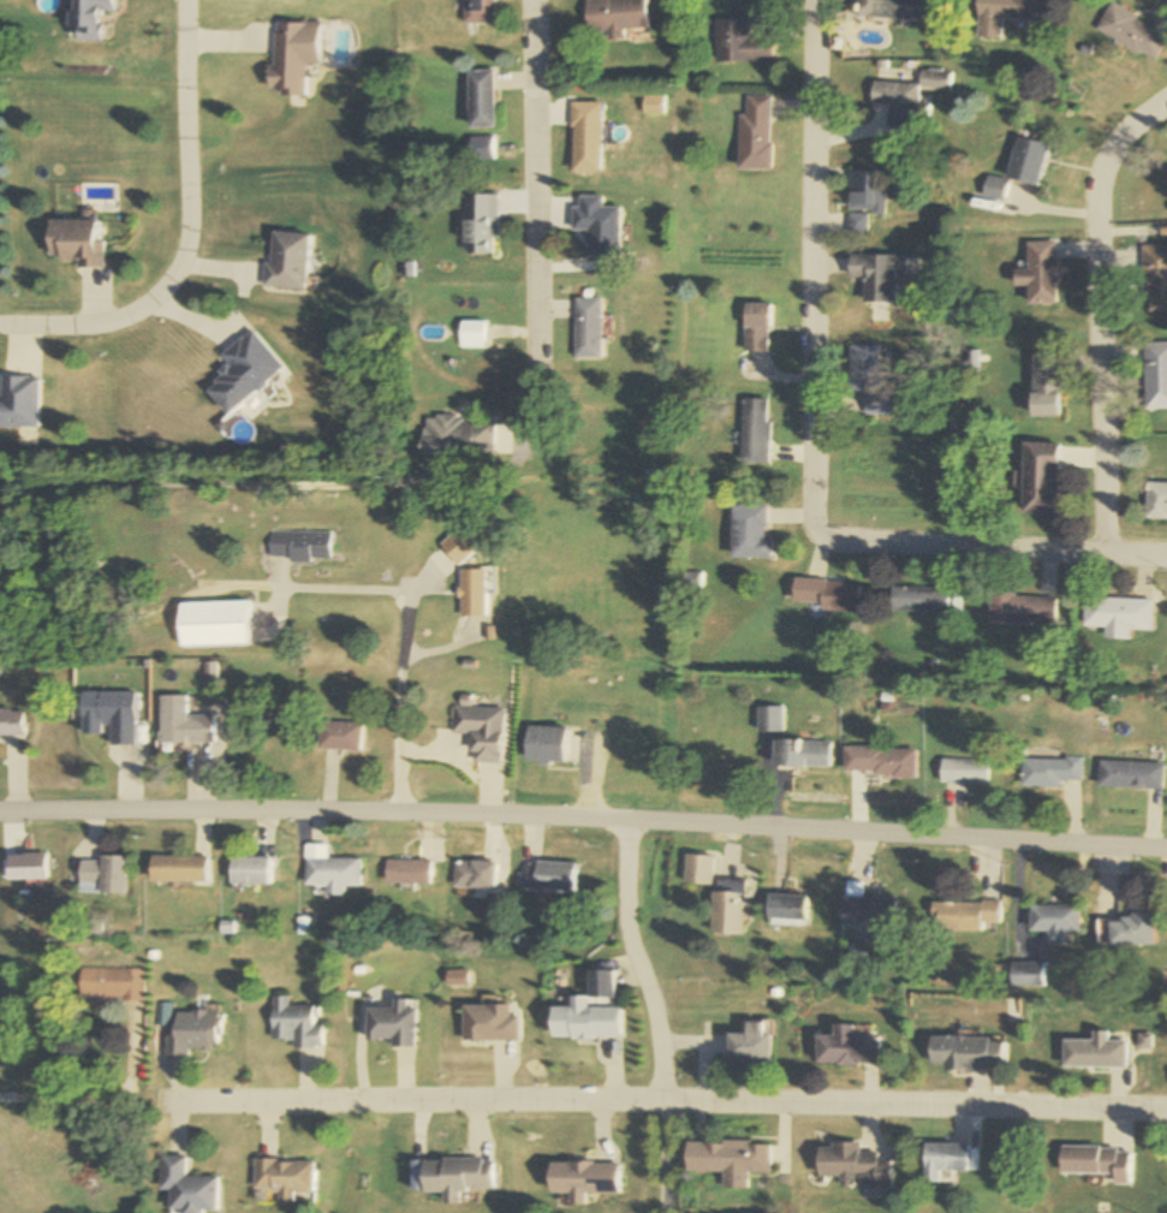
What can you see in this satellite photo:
building: (894, 10)
building: (1010, 10)
building: (478, 12)
building: (91, 18)
building: (615, 18)
building: (1127, 34)
building: (739, 44)
building: (292, 57)
building: (909, 97)
building: (481, 100)
building: (755, 135)
building: (585, 138)
building: (1019, 168)
building: (865, 198)
road: (534, 200)
building: (481, 224)
road: (185, 233)
building: (73, 243)
building: (286, 261)
building: (1041, 274)
building: (879, 277)
building: (1155, 277)
road: (1098, 311)
building: (587, 328)
building: (757, 328)
building: (470, 333)
building: (1156, 376)
building: (871, 377)
building: (1049, 387)
building: (18, 403)
building: (756, 432)
building: (457, 436)
road: (815, 440)
building: (1041, 480)
building: (1156, 501)
building: (751, 530)
building: (298, 545)
building: (472, 591)
building: (828, 595)
building: (918, 600)
building: (1022, 608)
road: (406, 610)
building: (1117, 616)
building: (212, 623)
building: (107, 707)
building: (770, 719)
building: (11, 724)
building: (181, 724)
building: (480, 731)
building: (339, 736)
building: (546, 744)
building: (802, 754)
building: (880, 760)
building: (964, 772)
building: (1052, 772)
building: (1130, 774)
road: (583, 820)
building: (28, 867)
building: (179, 868)
building: (332, 869)
building: (698, 869)
building: (250, 870)
building: (409, 872)
building: (475, 874)
building: (102, 875)
building: (552, 876)
building: (730, 906)
building: (788, 909)
building: (964, 915)
building: (870, 916)
building: (1055, 921)
building: (1126, 930)
road: (641, 962)
building: (1028, 975)
building: (108, 982)
building: (591, 1012)
building: (293, 1023)
building: (393, 1023)
building: (492, 1023)
building: (189, 1033)
building: (752, 1042)
building: (847, 1047)
building: (1095, 1052)
building: (966, 1053)
road: (61, 1101)
road: (673, 1101)
road: (668, 1156)
building: (945, 1159)
building: (730, 1160)
building: (1097, 1161)
building: (853, 1166)
building: (285, 1177)
building: (457, 1177)
building: (583, 1179)
building: (187, 1188)

